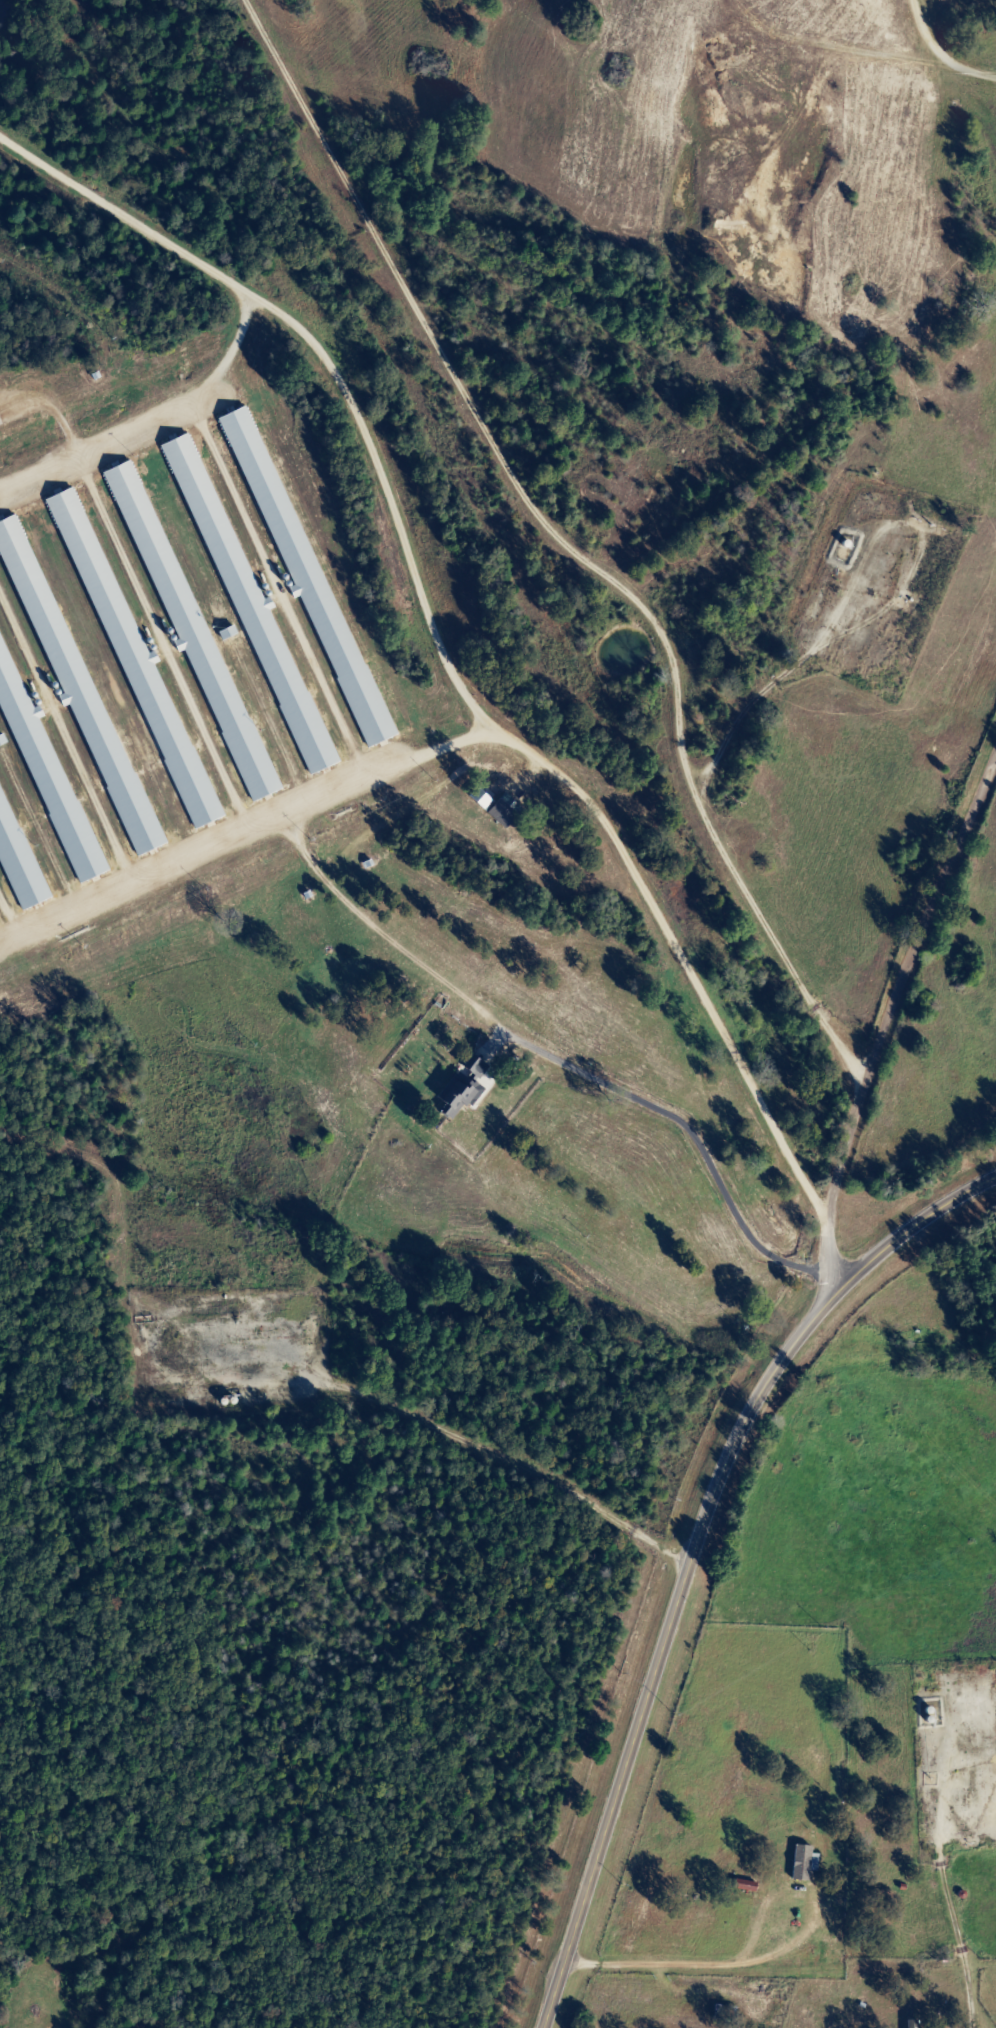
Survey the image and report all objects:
building: (306, 571)
building: (257, 618)
building: (190, 625)
building: (141, 670)
building: (74, 677)
building: (49, 777)
building: (483, 800)
building: (507, 812)
building: (18, 862)
road: (915, 970)
building: (478, 1067)
building: (460, 1096)
road: (692, 1553)
building: (806, 1864)
building: (747, 1887)
building: (914, 2024)

